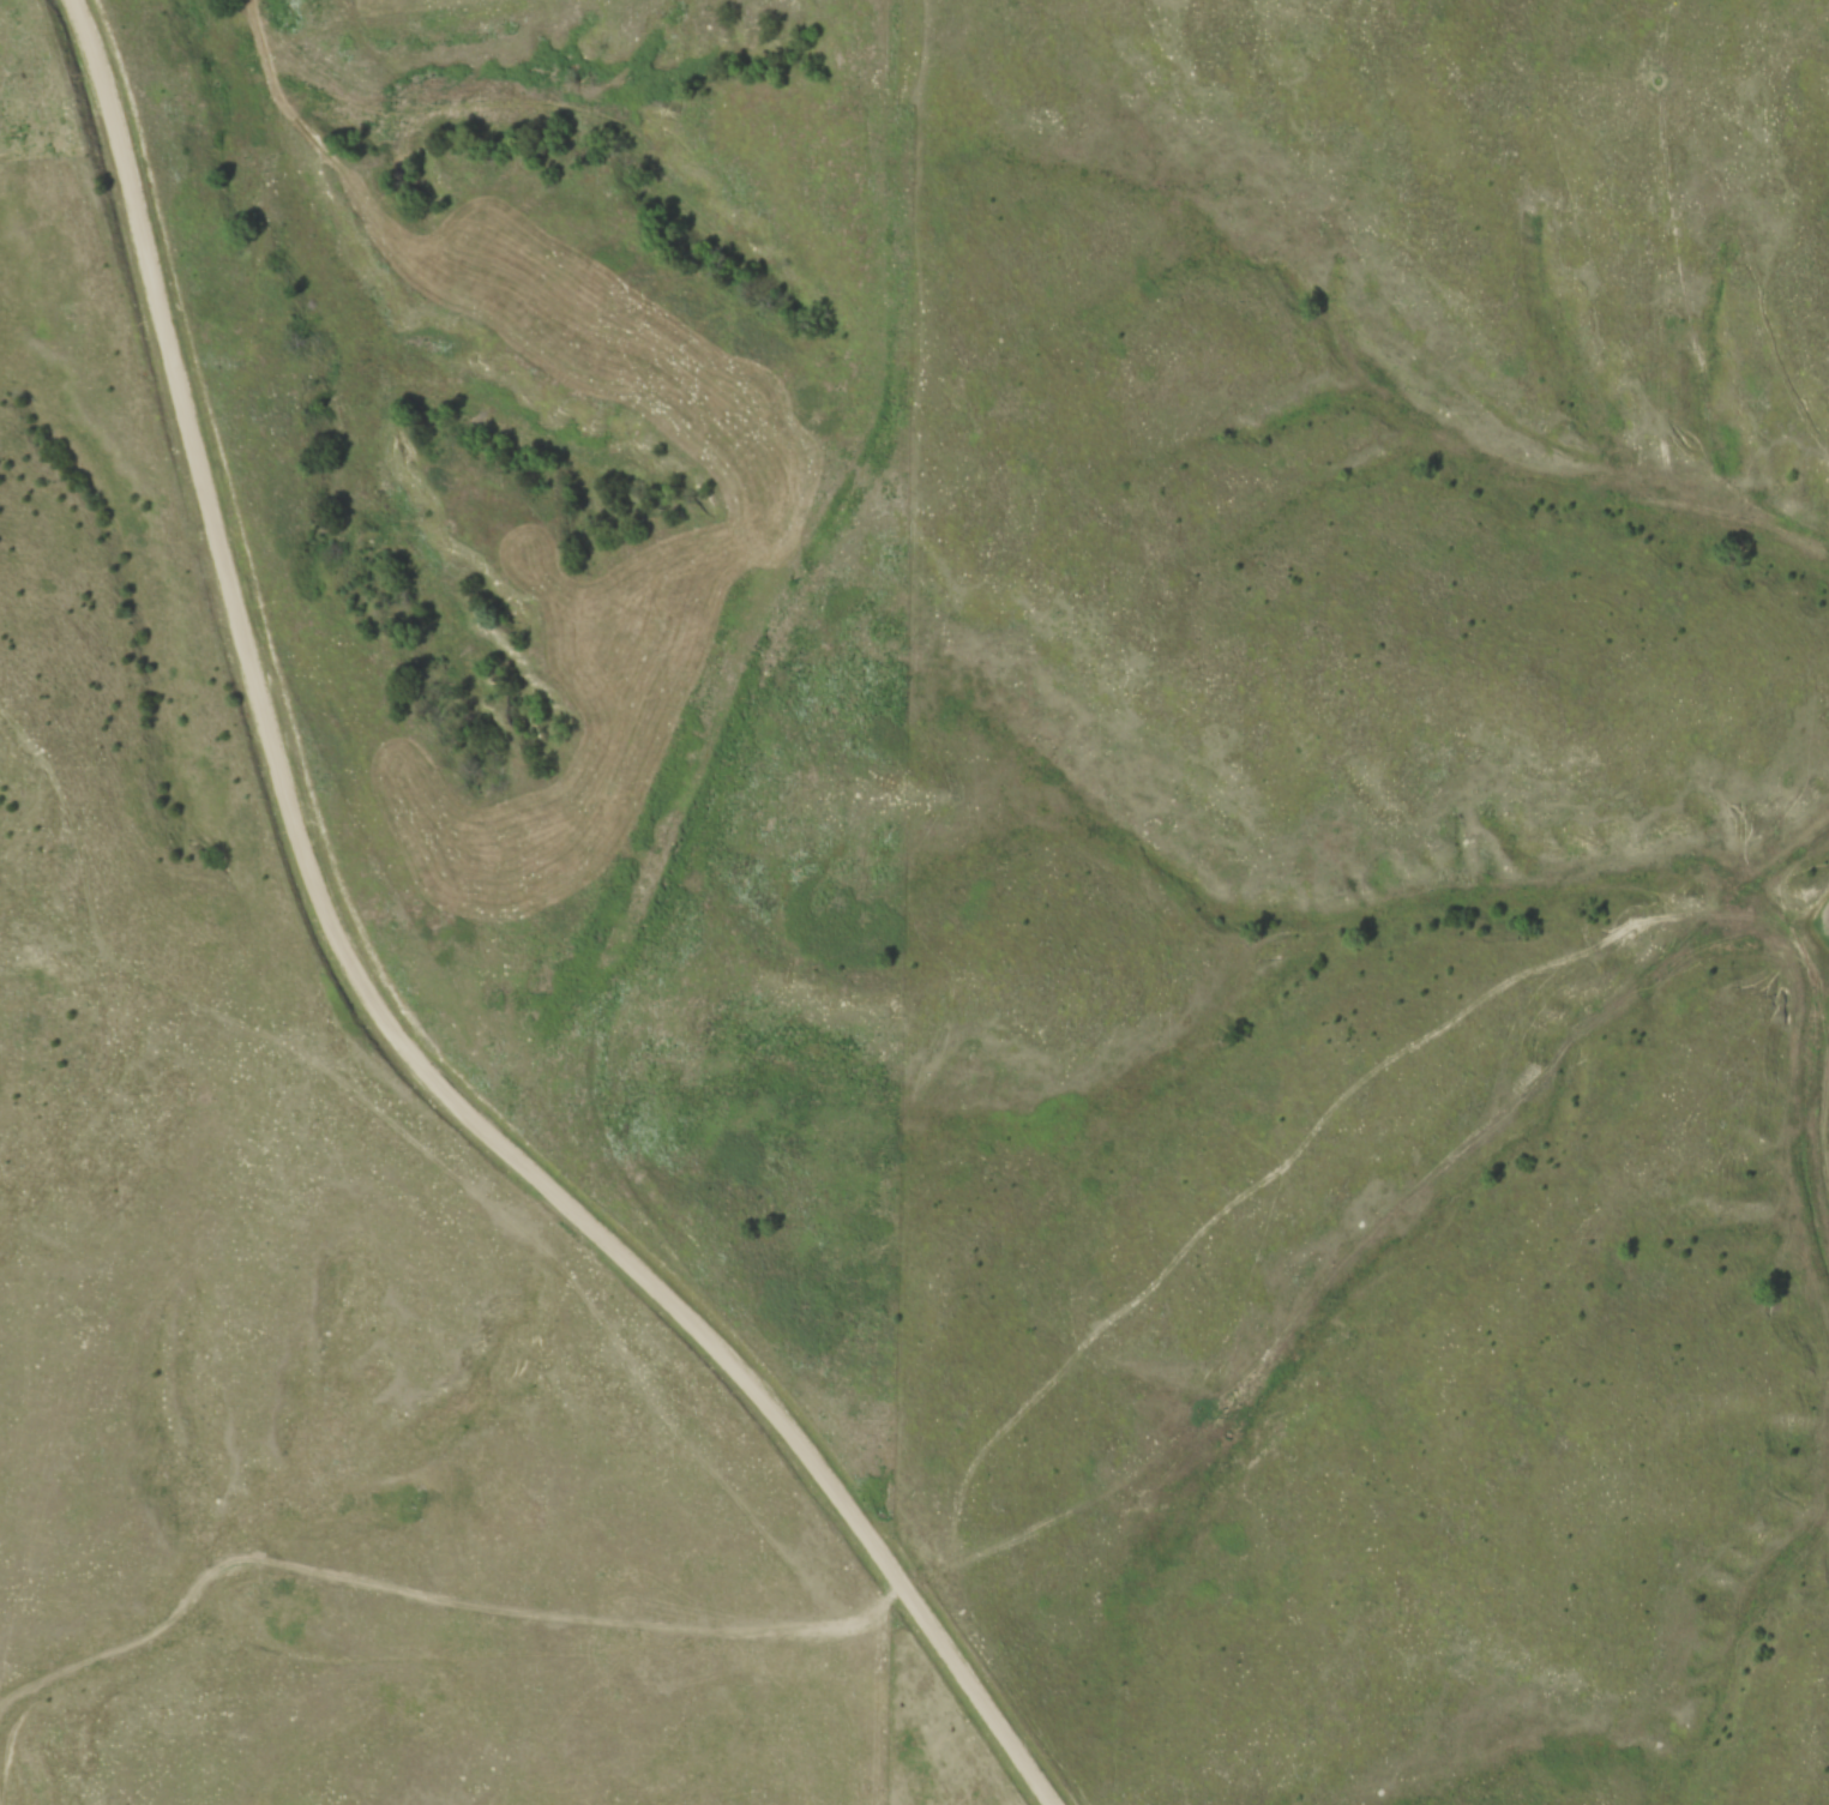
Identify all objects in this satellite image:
road: (372, 1007)

